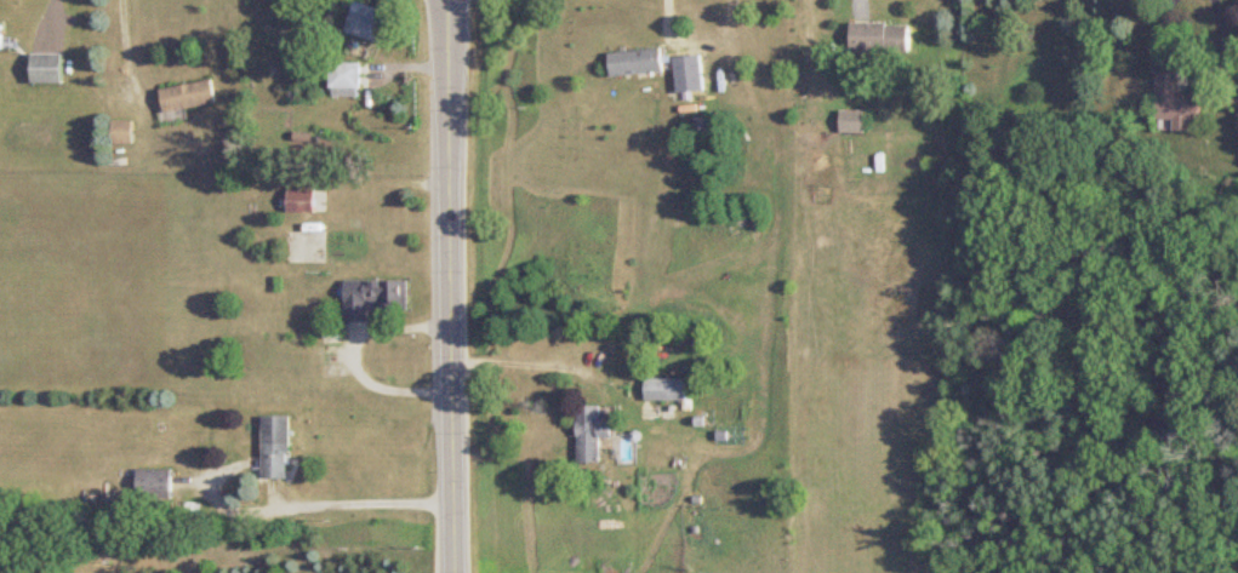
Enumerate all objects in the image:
road: (672, 17)
building: (371, 19)
building: (2, 34)
building: (884, 36)
road: (131, 51)
building: (640, 61)
building: (49, 67)
building: (349, 78)
building: (192, 94)
building: (1180, 99)
building: (855, 120)
building: (129, 132)
building: (306, 199)
road: (450, 286)
building: (377, 296)
road: (358, 353)
road: (531, 361)
building: (669, 388)
building: (595, 432)
building: (280, 445)
building: (159, 482)
road: (352, 495)

